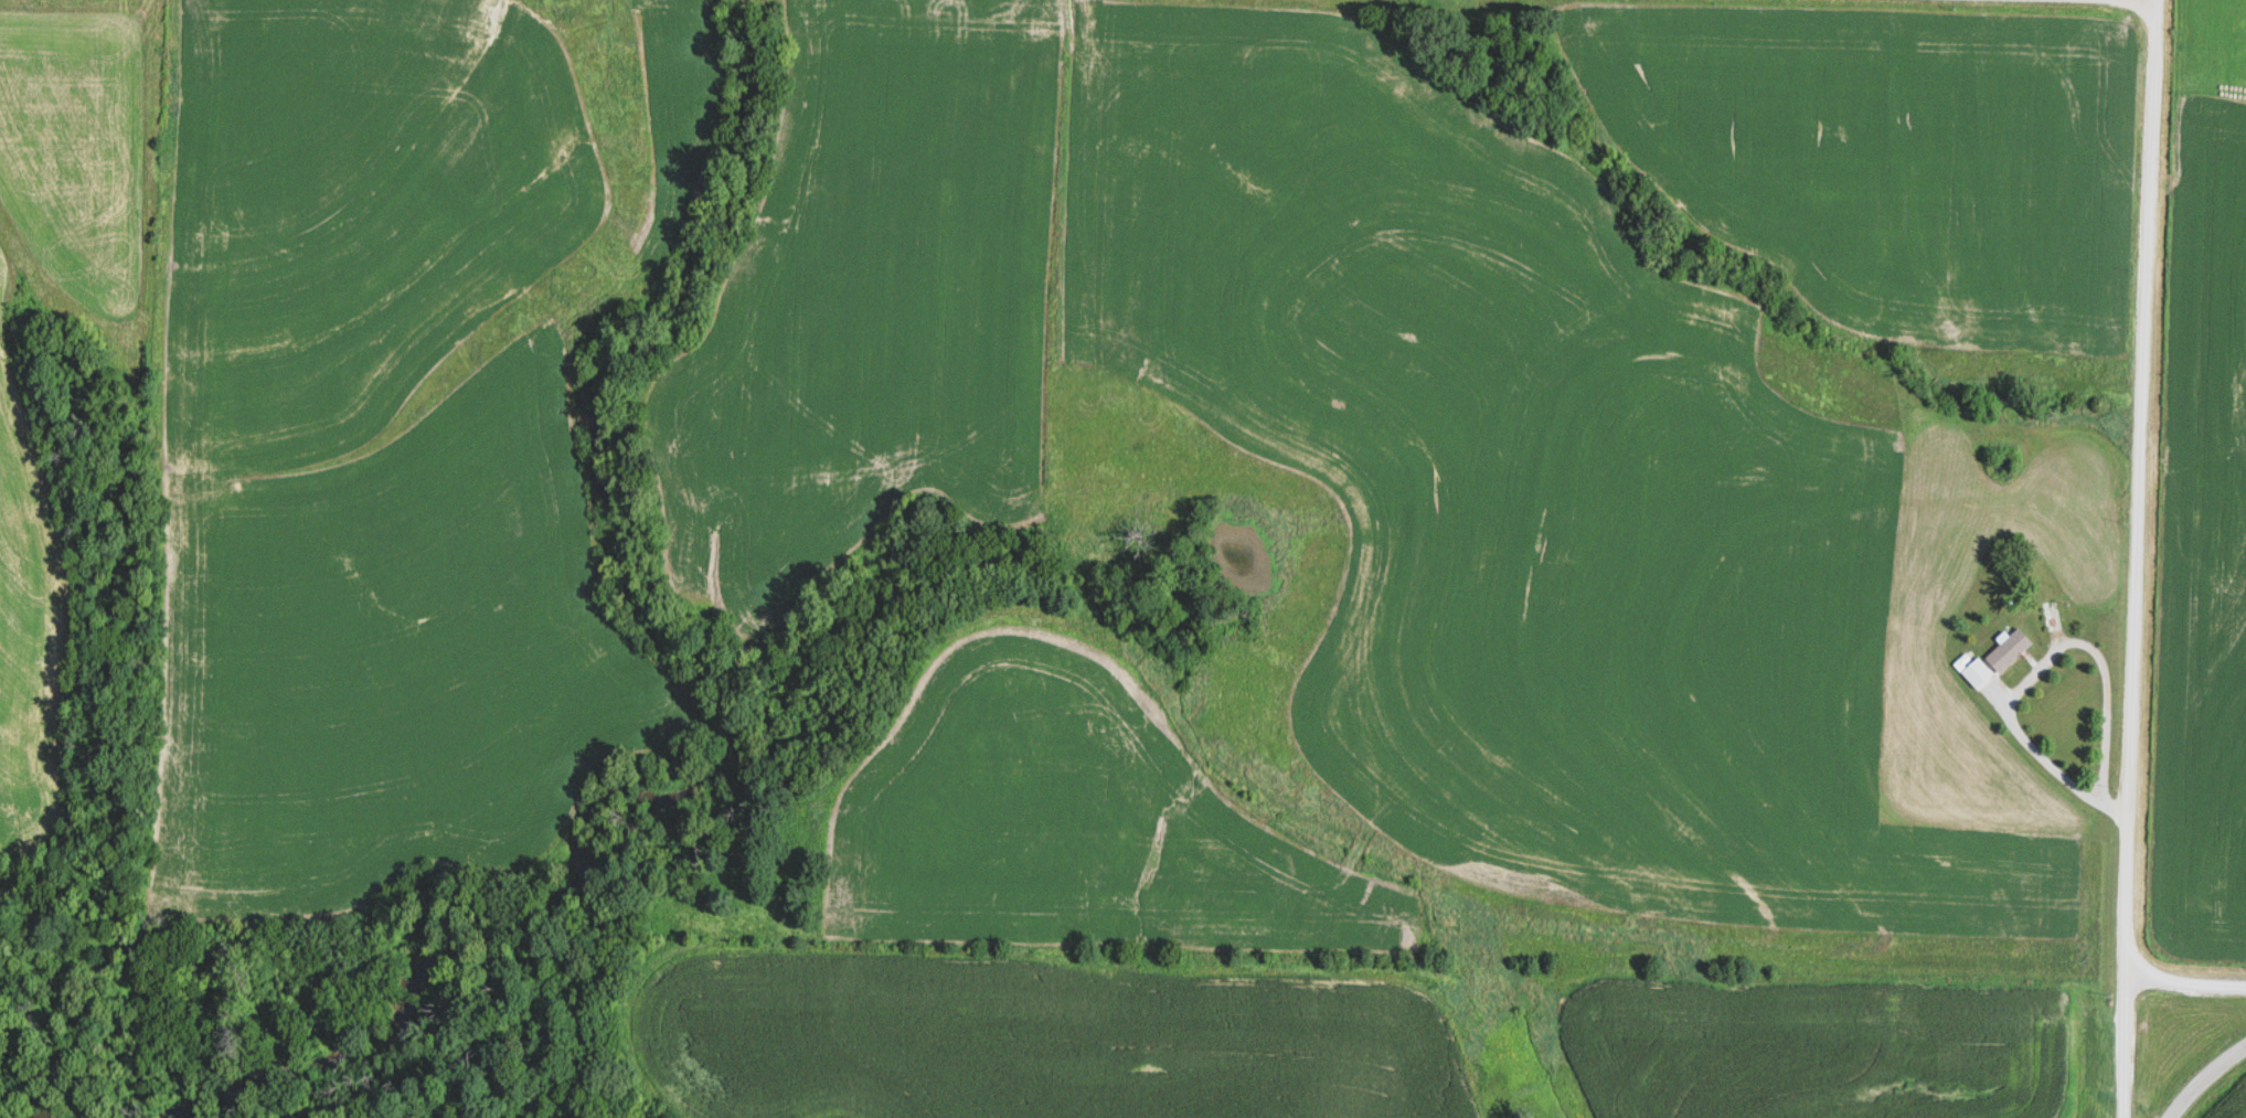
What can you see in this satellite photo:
road: (2133, 558)
building: (2054, 615)
building: (2011, 648)
road: (2184, 975)
road: (2201, 1075)

